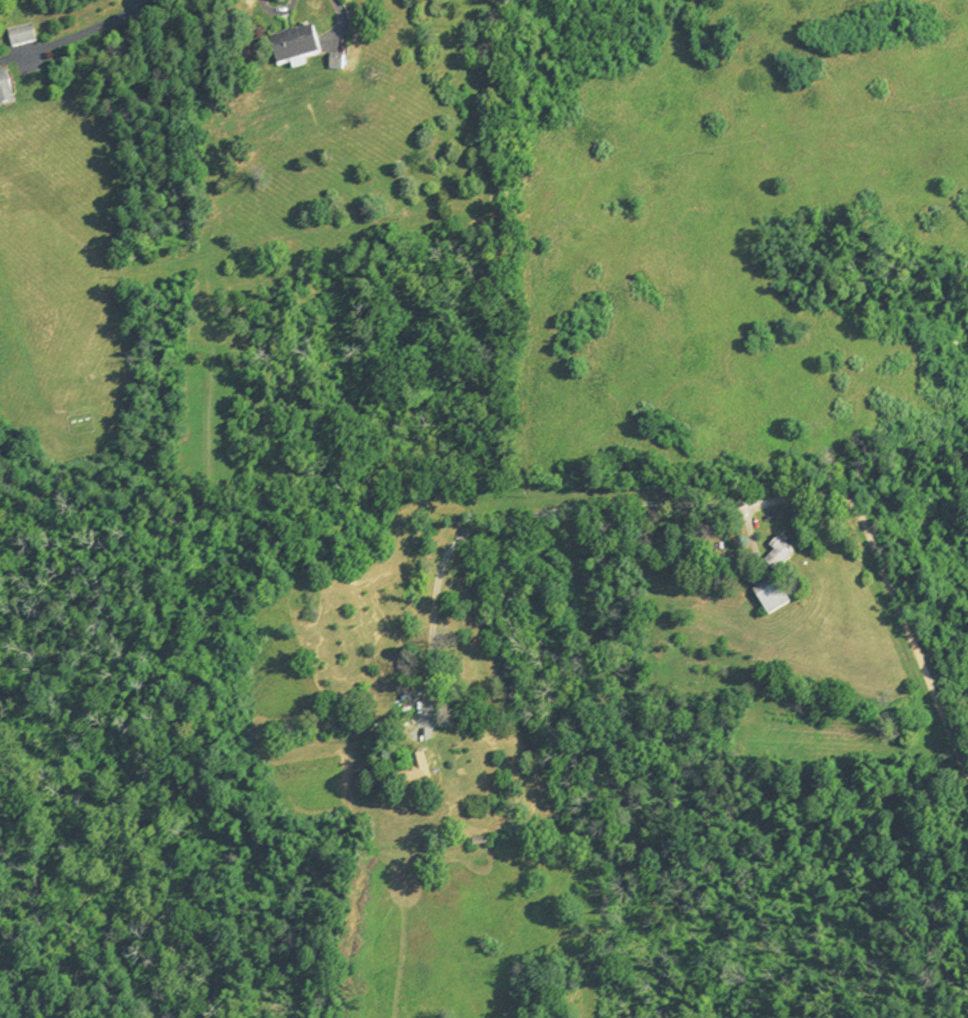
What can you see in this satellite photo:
road: (341, 18)
road: (84, 31)
building: (19, 37)
building: (292, 47)
building: (4, 93)
road: (699, 505)
building: (778, 555)
building: (770, 596)
building: (415, 772)
building: (478, 842)

